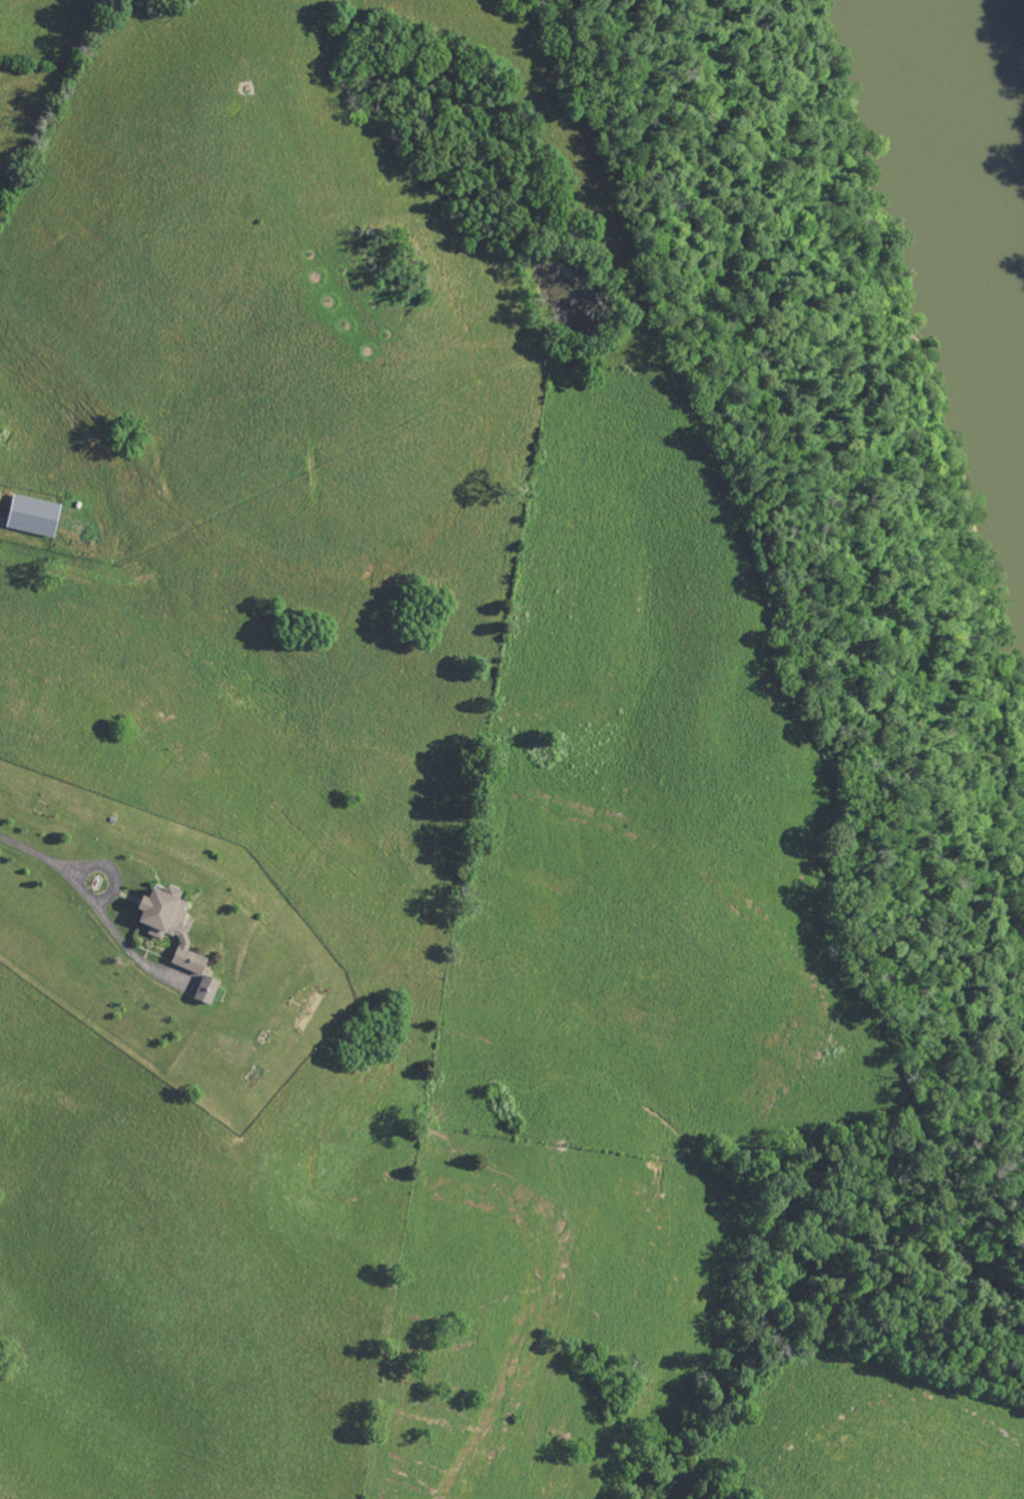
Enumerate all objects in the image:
river: (988, 169)
building: (35, 516)
building: (172, 924)
building: (208, 989)

